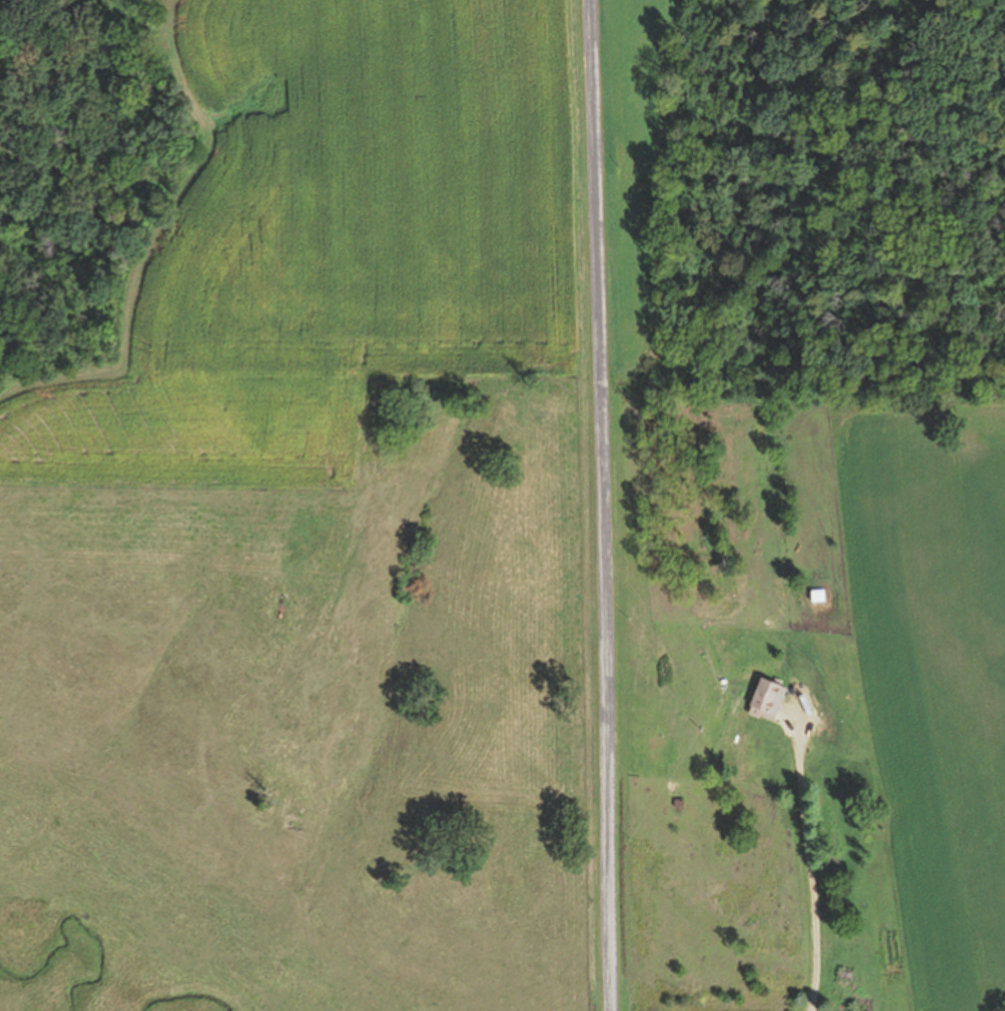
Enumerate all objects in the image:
road: (604, 505)
building: (767, 701)

